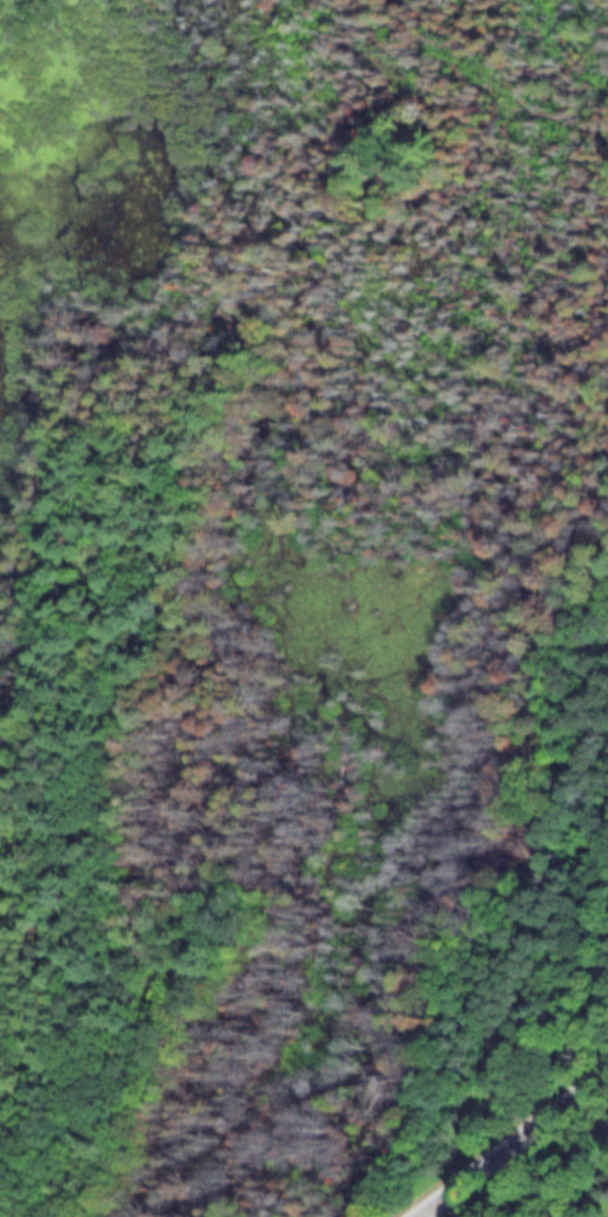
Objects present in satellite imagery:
road: (510, 1143)

